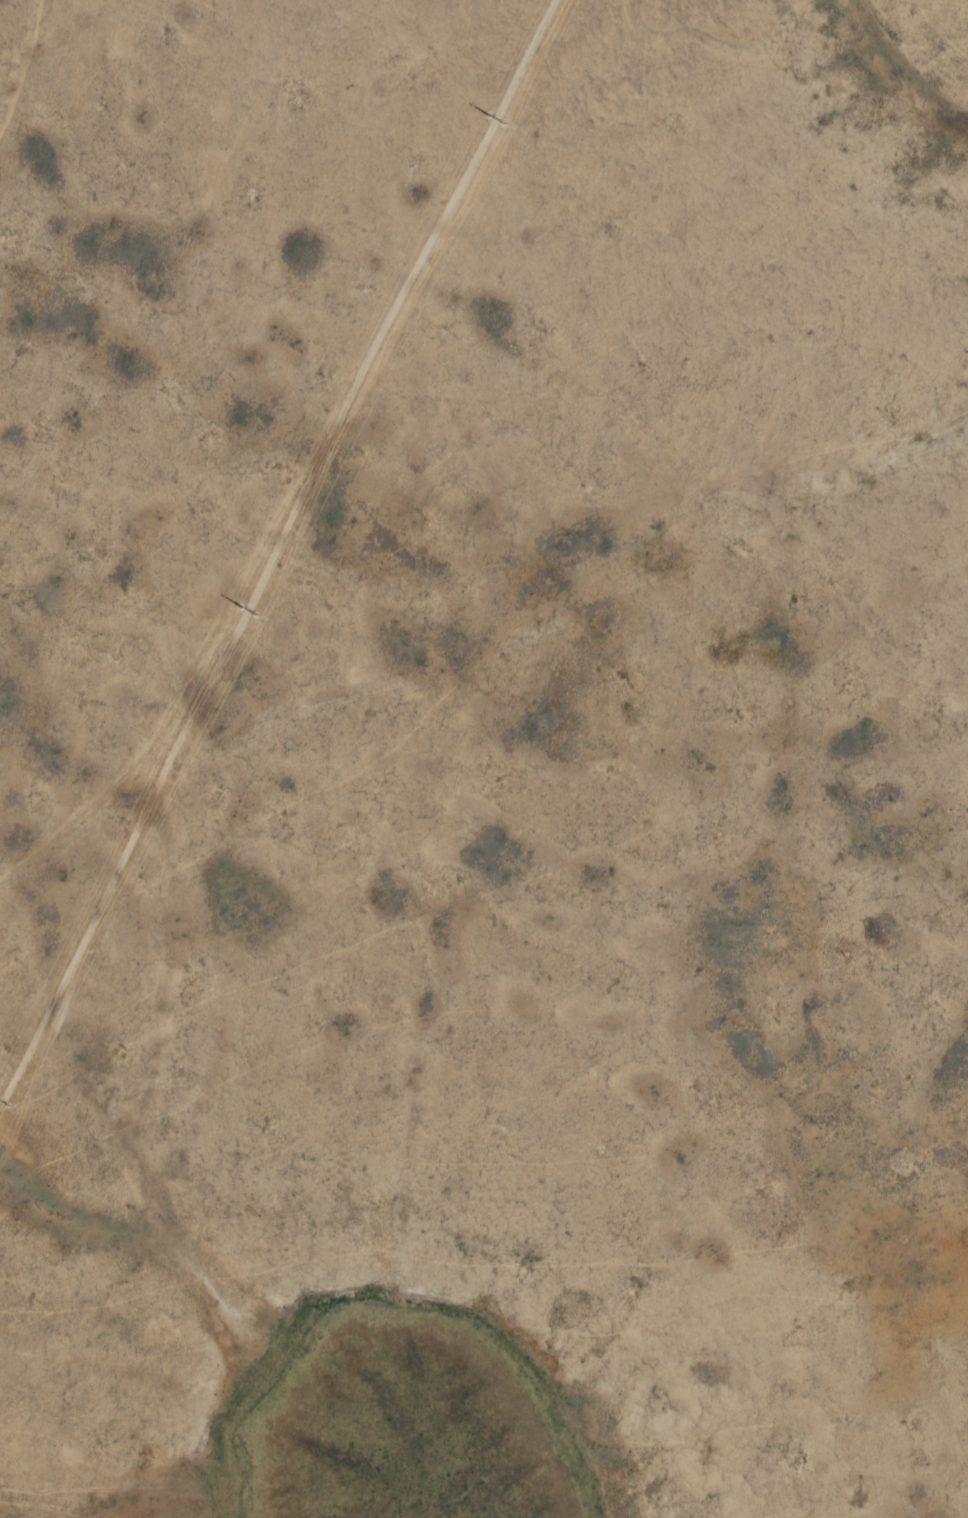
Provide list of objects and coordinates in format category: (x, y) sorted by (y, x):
power tower: (492, 118)
power tower: (246, 611)
power tower: (0, 1104)

